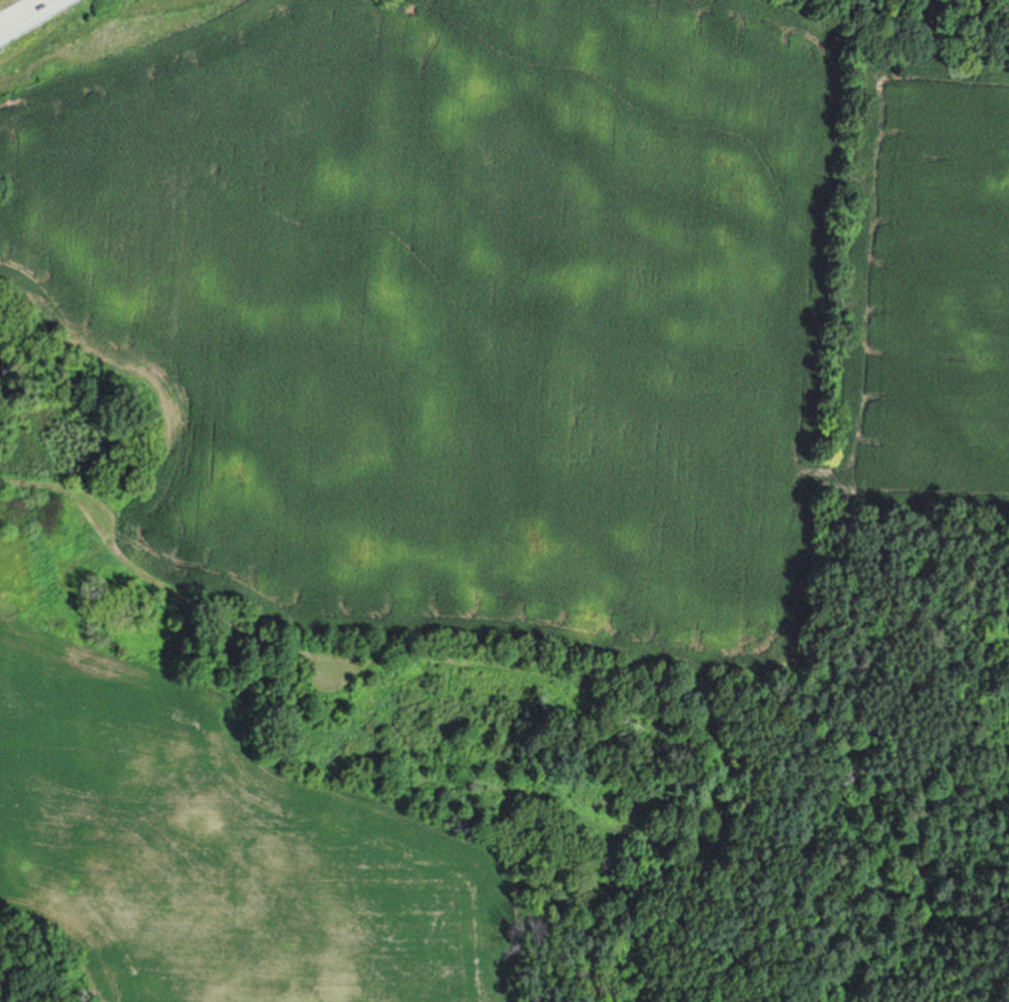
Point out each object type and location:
road: (29, 16)

